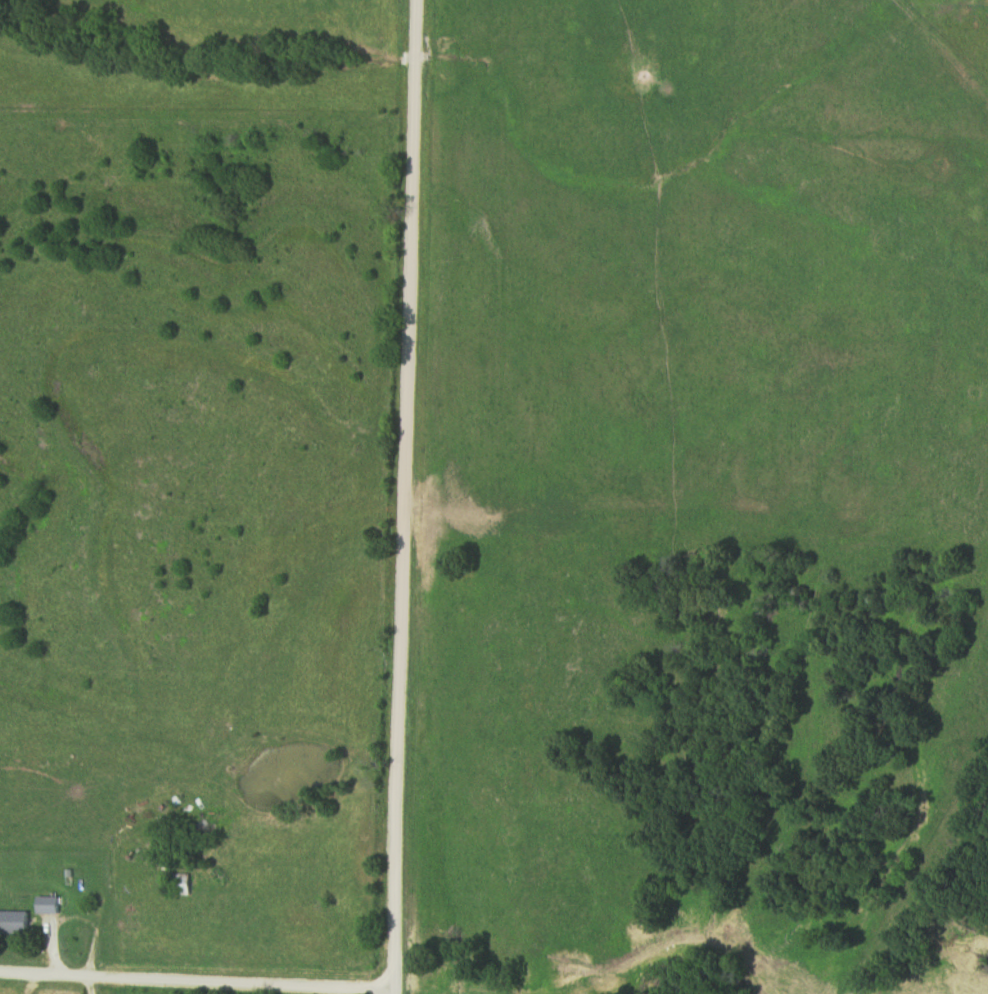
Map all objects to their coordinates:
road: (408, 496)
building: (183, 885)
building: (51, 906)
building: (15, 923)
road: (198, 976)
road: (8, 981)
road: (87, 982)

